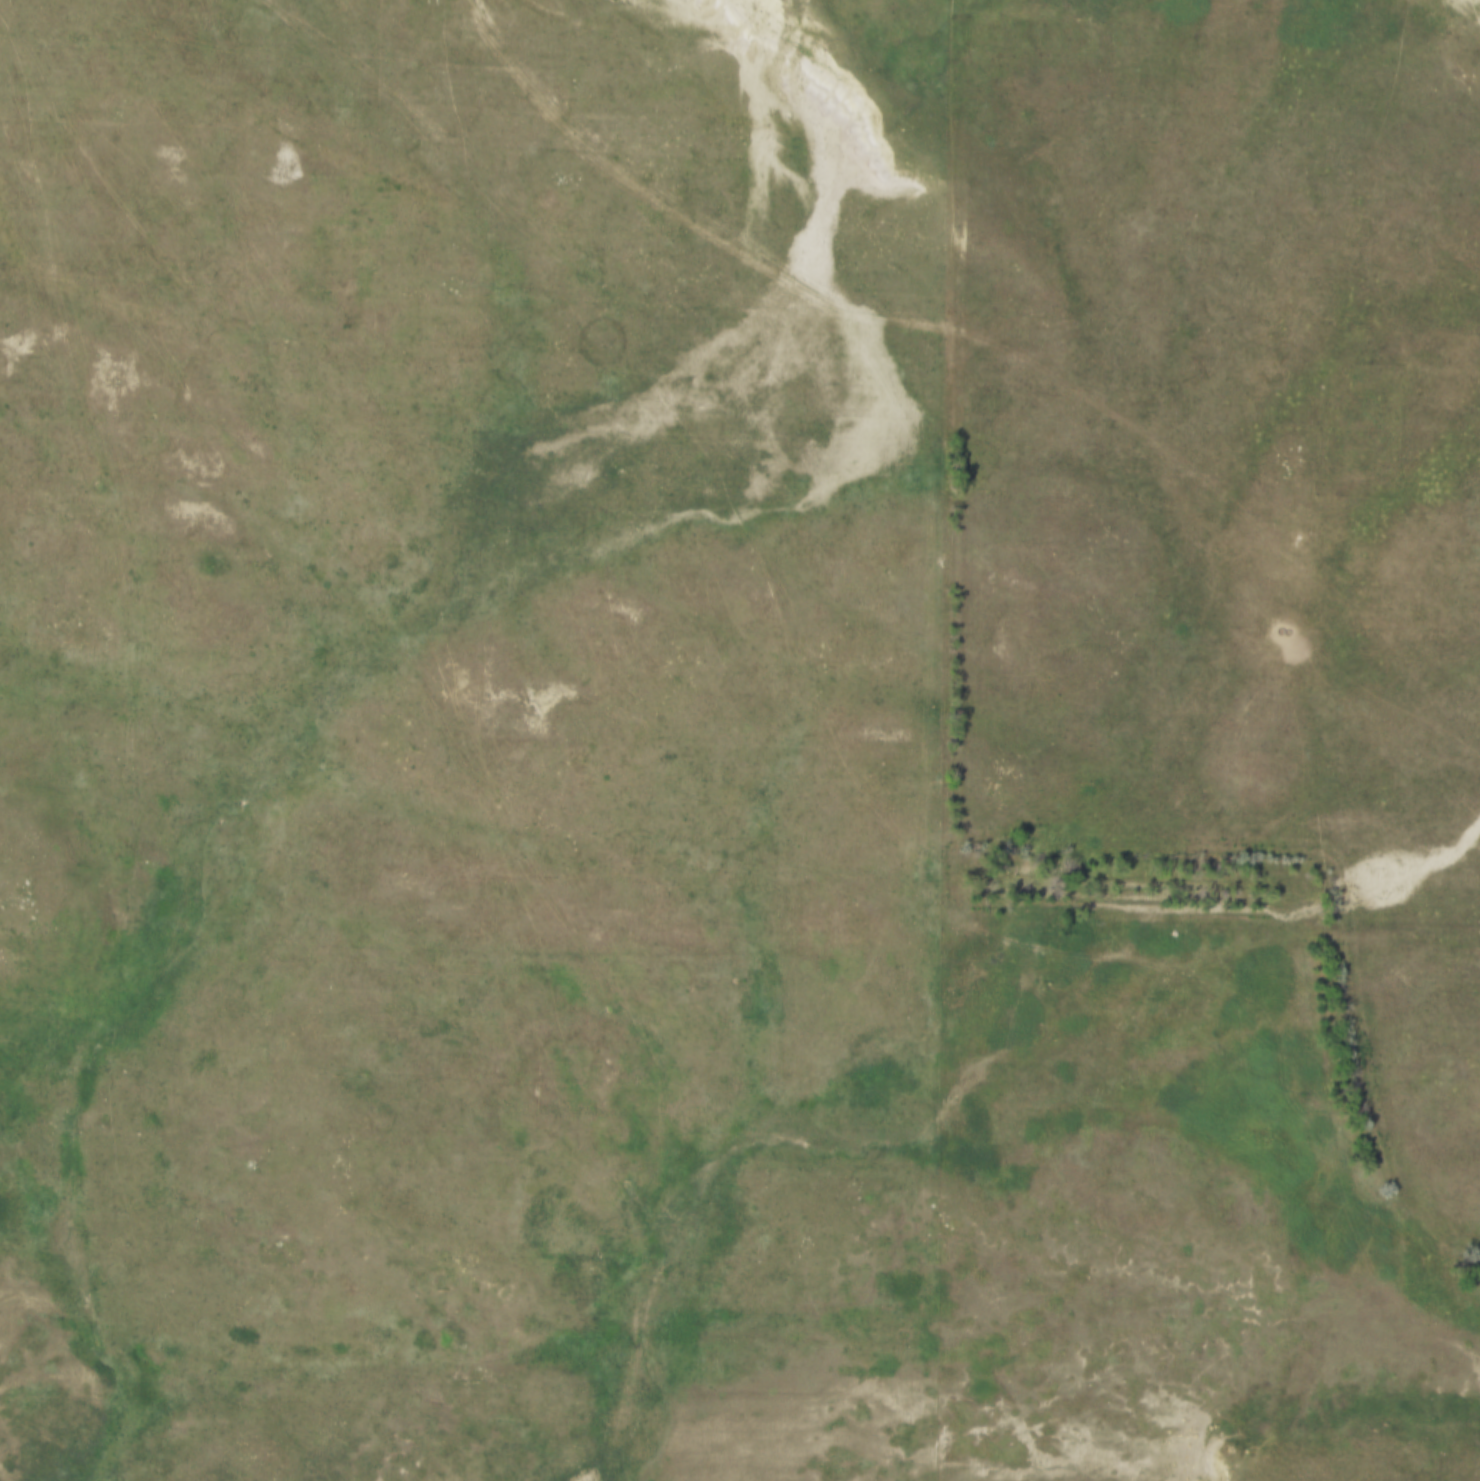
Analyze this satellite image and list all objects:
road: (957, 333)

